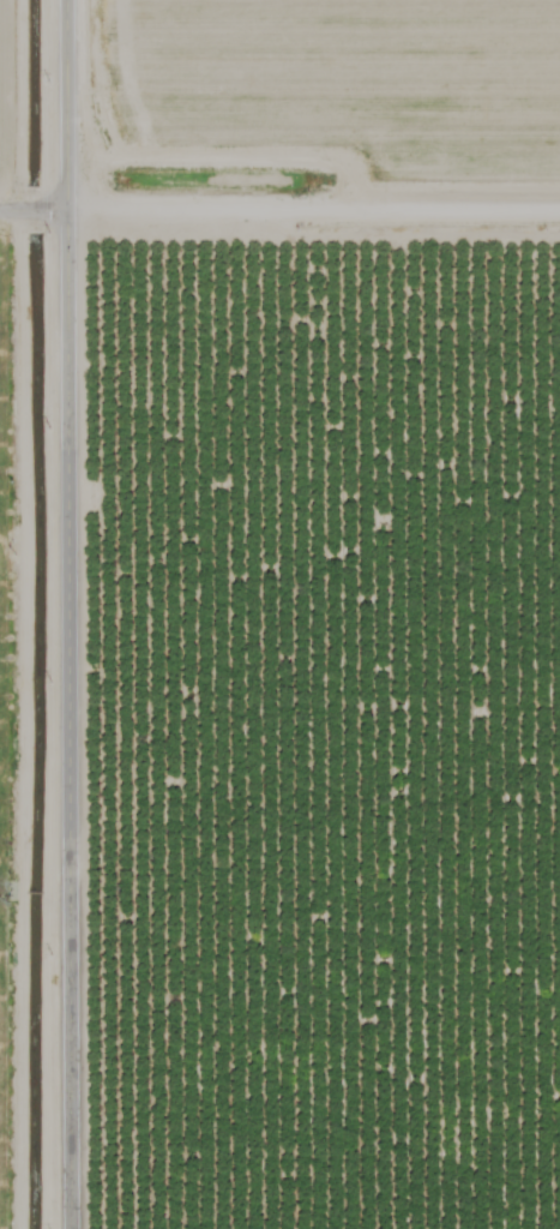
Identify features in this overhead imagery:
road: (279, 200)
road: (55, 613)
crop: (279, 614)

